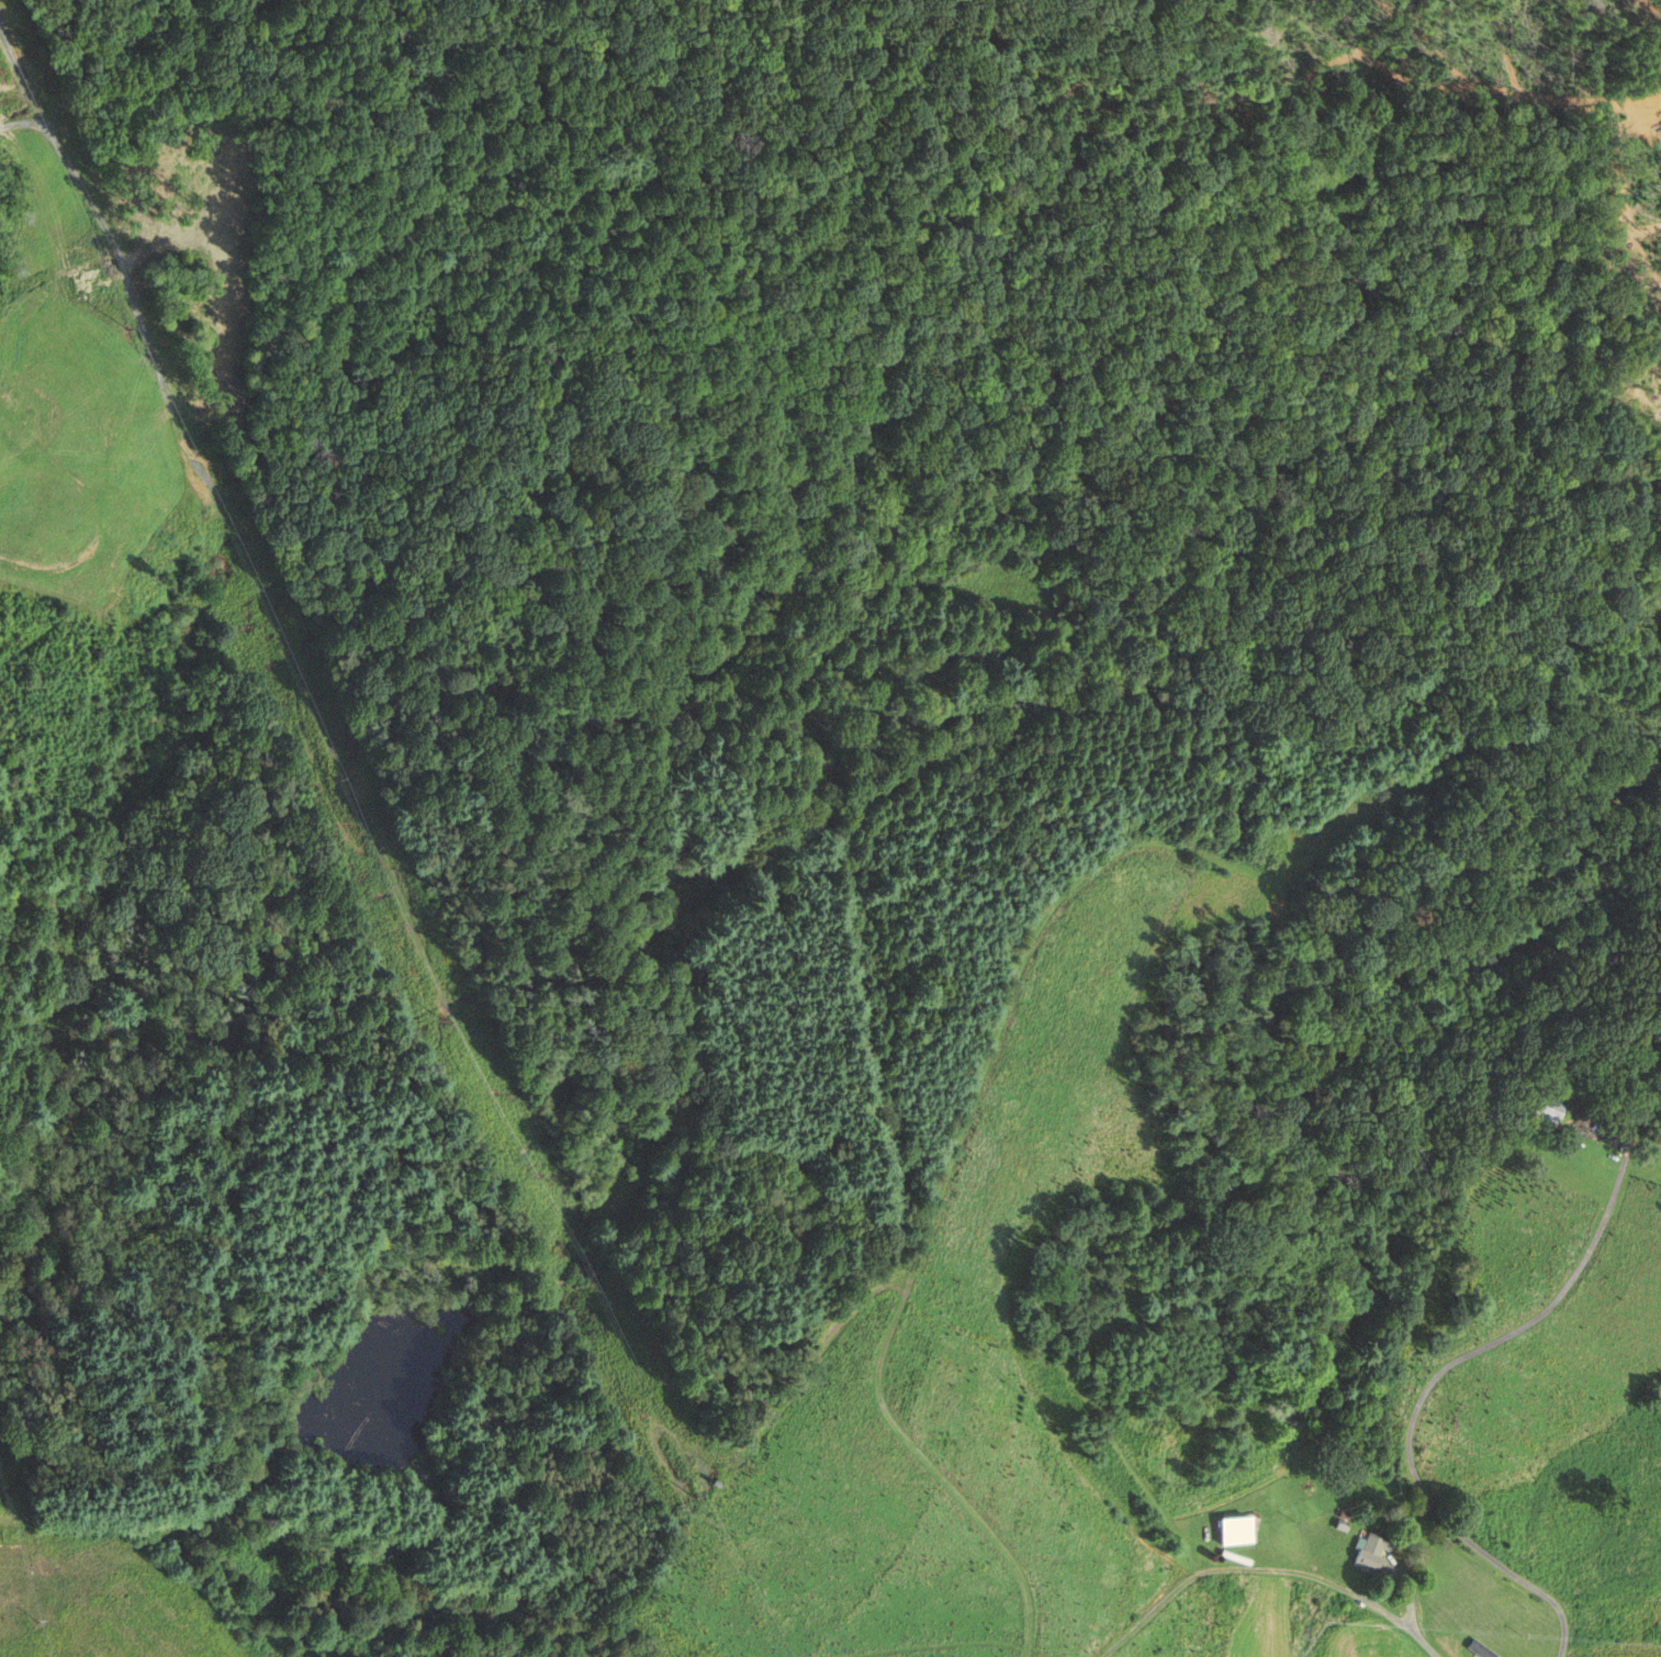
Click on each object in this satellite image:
building: (1534, 1111)
road: (1426, 1393)
building: (1224, 1530)
building: (1367, 1545)
road: (1354, 1592)
building: (1473, 1649)

